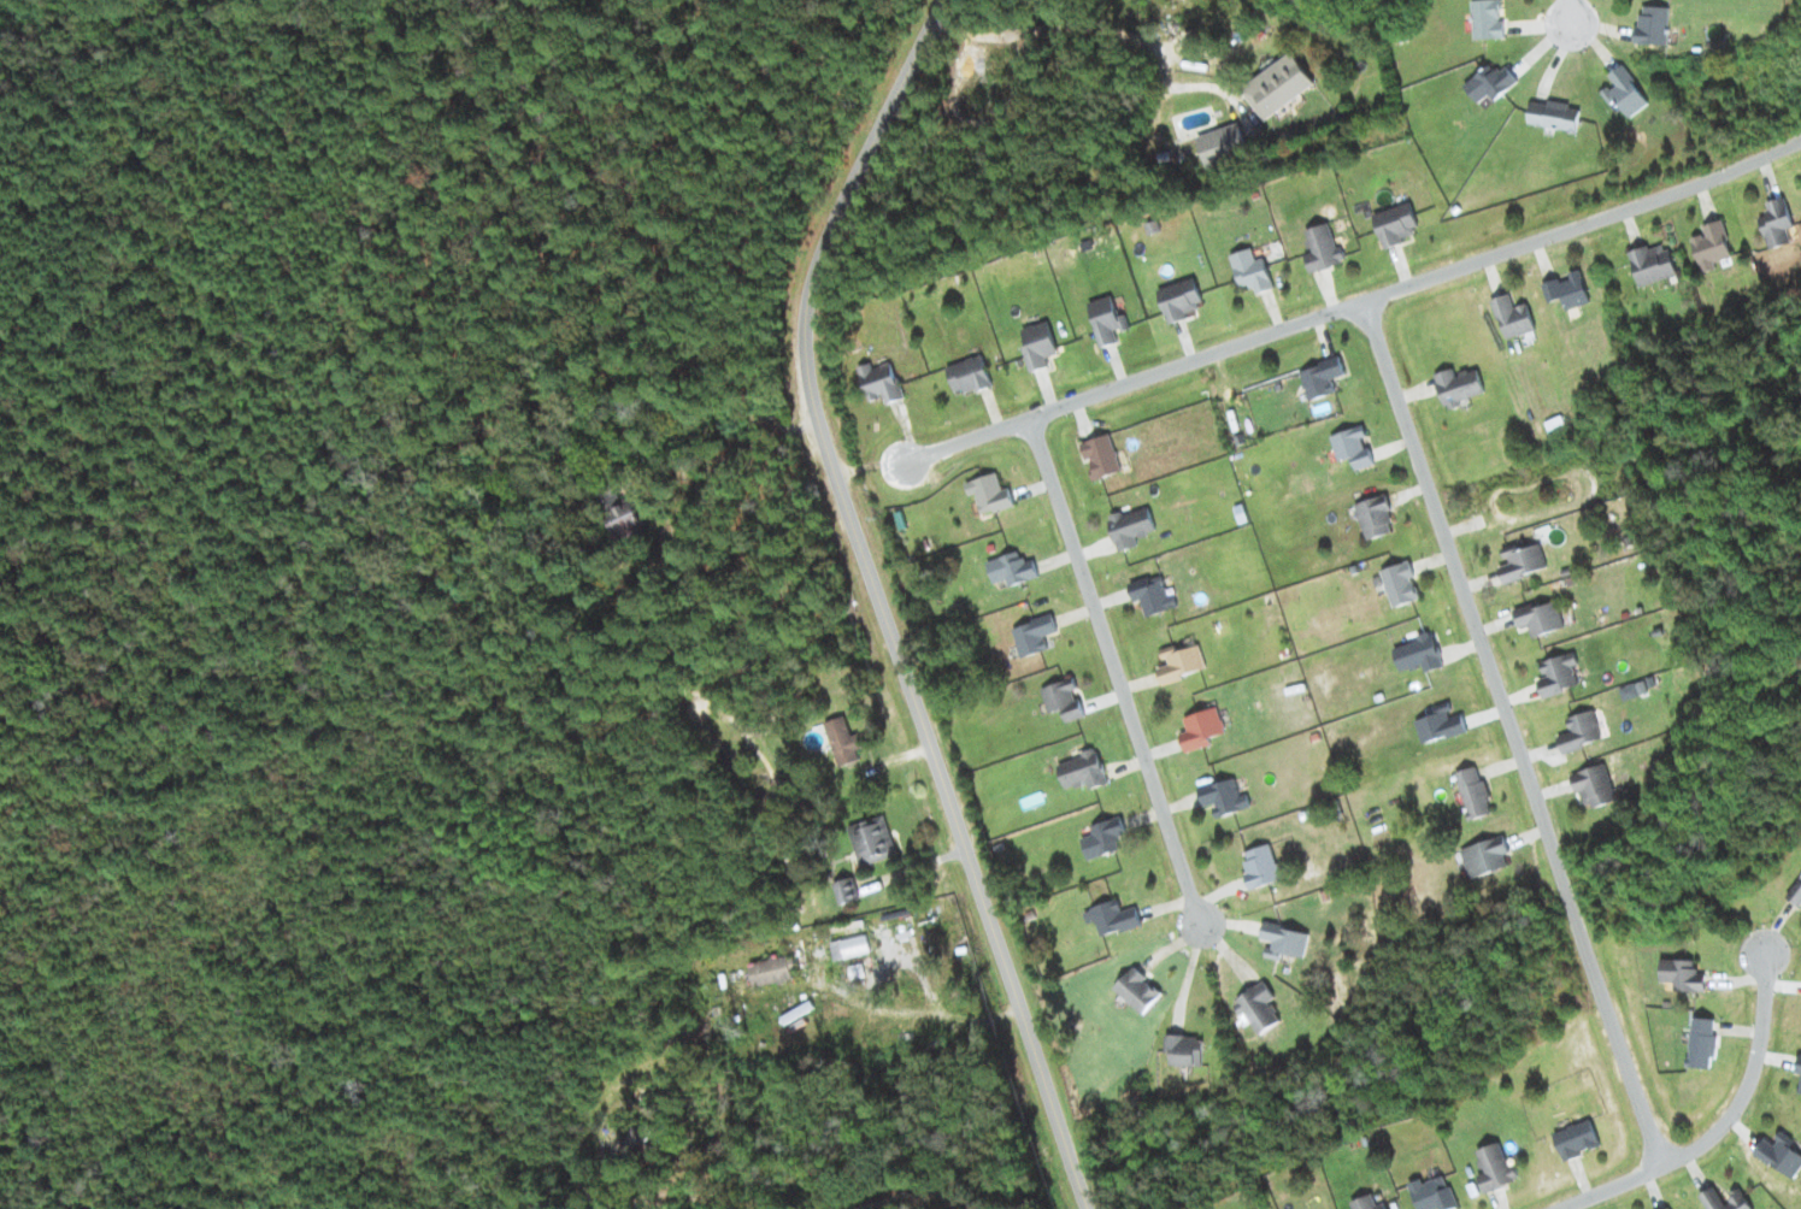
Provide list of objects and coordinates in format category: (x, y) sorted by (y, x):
road: (1568, 11)
building: (1488, 19)
building: (1654, 24)
building: (1491, 83)
building: (1279, 85)
building: (1625, 92)
building: (1554, 114)
building: (1223, 143)
building: (1397, 223)
building: (1777, 223)
building: (1712, 246)
building: (1323, 248)
building: (1654, 265)
building: (1252, 271)
building: (1567, 289)
building: (1181, 299)
road: (1354, 302)
building: (1513, 317)
building: (1107, 319)
building: (1038, 344)
building: (970, 375)
building: (1322, 377)
building: (881, 382)
building: (1459, 385)
building: (1353, 446)
building: (1102, 455)
building: (988, 494)
building: (1375, 517)
building: (626, 520)
building: (1131, 526)
building: (1522, 562)
building: (1012, 568)
building: (1401, 583)
building: (1153, 595)
road: (878, 600)
building: (1540, 617)
building: (1034, 635)
building: (1418, 654)
building: (1182, 662)
road: (1112, 670)
building: (1558, 673)
building: (1637, 688)
building: (1064, 698)
building: (1441, 724)
building: (1202, 729)
building: (1579, 731)
road: (1512, 732)
building: (843, 741)
building: (1084, 769)
building: (1594, 785)
building: (1475, 792)
building: (1225, 797)
building: (1103, 838)
building: (873, 841)
building: (1485, 856)
building: (1261, 866)
building: (1796, 894)
building: (1112, 916)
building: (1284, 940)
building: (851, 946)
building: (772, 971)
building: (1684, 974)
building: (1138, 990)
building: (1256, 1007)
building: (1702, 1042)
building: (1185, 1049)
building: (1799, 1064)
building: (1800, 1089)
road: (1720, 1125)
building: (1577, 1139)
building: (636, 1142)
building: (1781, 1154)
building: (1434, 1193)
road: (930, 1197)
road: (684, 1199)
building: (1725, 1201)
building: (1369, 1203)
building: (1670, 1208)

